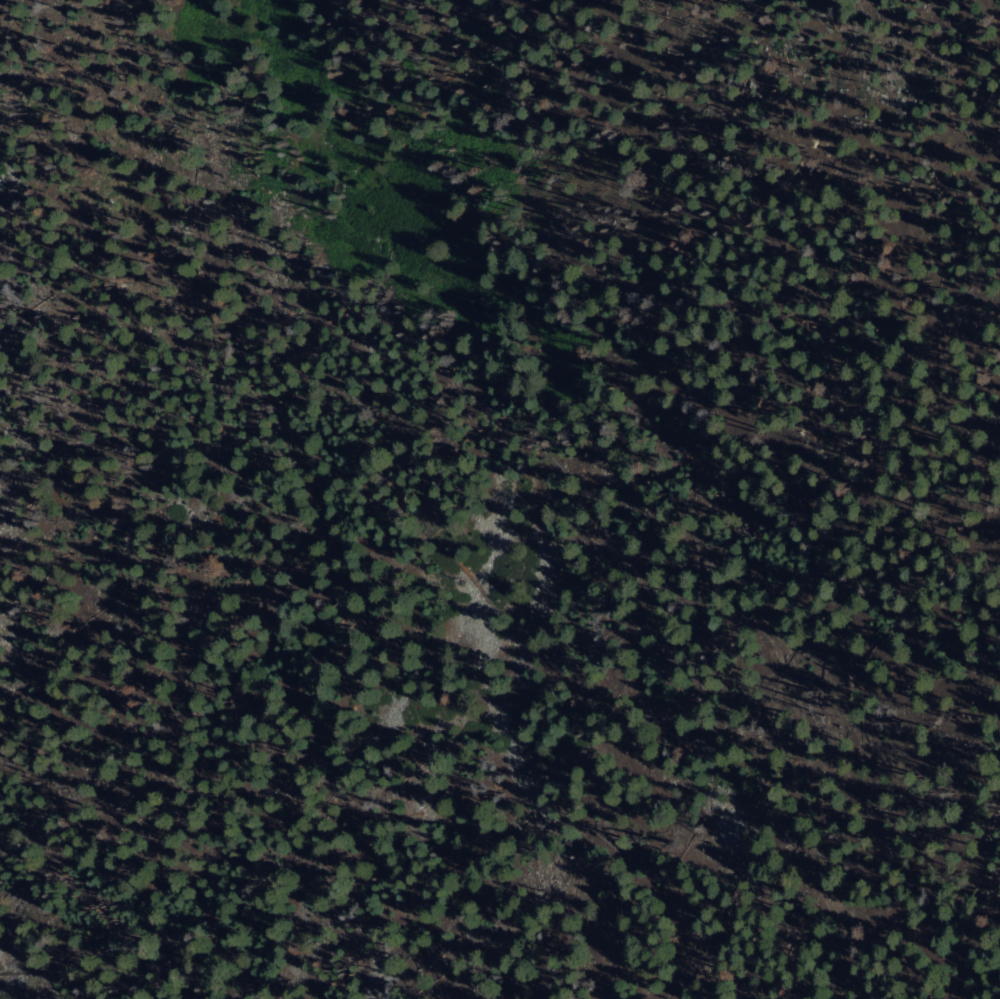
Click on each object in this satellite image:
road: (264, 183)

